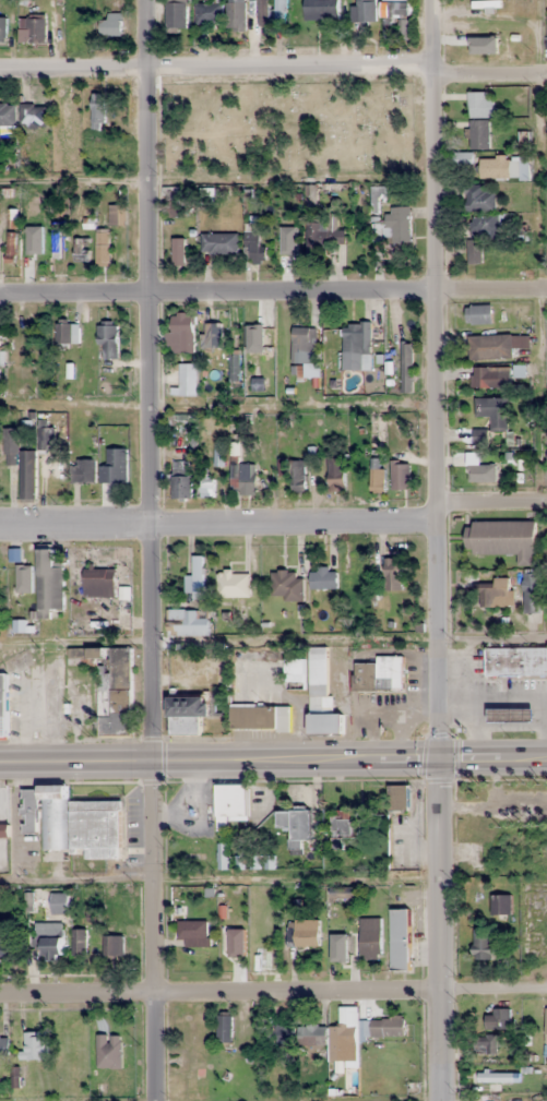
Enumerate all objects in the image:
building: (475, 7)
building: (321, 10)
building: (364, 11)
building: (280, 12)
building: (209, 13)
building: (237, 15)
building: (176, 16)
building: (396, 20)
building: (109, 26)
building: (2, 28)
building: (32, 29)
building: (476, 47)
road: (216, 69)
road: (489, 74)
building: (480, 105)
building: (98, 110)
building: (8, 115)
building: (33, 115)
park: (289, 124)
building: (479, 134)
building: (103, 148)
building: (463, 158)
building: (504, 167)
building: (479, 199)
building: (175, 201)
building: (117, 214)
building: (397, 225)
building: (484, 226)
building: (324, 234)
building: (57, 241)
building: (218, 243)
building: (252, 246)
building: (103, 247)
building: (34, 248)
building: (282, 248)
building: (81, 249)
building: (474, 251)
building: (178, 252)
road: (273, 292)
building: (478, 314)
building: (183, 330)
building: (252, 333)
building: (67, 334)
building: (211, 335)
building: (357, 338)
building: (108, 339)
building: (1, 342)
building: (304, 344)
building: (496, 346)
building: (26, 348)
building: (234, 368)
building: (406, 369)
building: (490, 376)
road: (152, 379)
road: (436, 379)
building: (185, 381)
building: (491, 417)
building: (46, 439)
building: (10, 446)
building: (115, 467)
building: (336, 468)
building: (479, 469)
building: (83, 471)
building: (28, 475)
building: (377, 475)
building: (299, 476)
building: (401, 476)
building: (245, 478)
building: (181, 480)
building: (206, 492)
road: (491, 499)
road: (217, 526)
building: (502, 539)
building: (22, 572)
building: (393, 574)
building: (198, 577)
building: (323, 578)
building: (99, 582)
building: (48, 585)
building: (233, 585)
building: (286, 586)
building: (532, 593)
building: (492, 594)
building: (187, 622)
building: (515, 661)
building: (295, 674)
building: (379, 674)
building: (115, 691)
building: (321, 696)
building: (3, 704)
building: (192, 713)
building: (511, 715)
building: (260, 718)
road: (273, 758)
traffic signals: (440, 758)
building: (399, 797)
building: (231, 800)
building: (46, 814)
building: (295, 826)
building: (343, 826)
building: (97, 827)
building: (3, 830)
building: (342, 893)
building: (58, 902)
building: (500, 903)
road: (151, 930)
road: (440, 930)
building: (306, 932)
building: (194, 933)
building: (340, 935)
building: (239, 936)
building: (369, 937)
building: (48, 940)
building: (399, 940)
building: (79, 942)
building: (483, 944)
building: (114, 946)
building: (8, 947)
road: (273, 990)
building: (498, 1018)
building: (546, 1026)
building: (387, 1027)
building: (225, 1028)
building: (280, 1033)
building: (311, 1034)
building: (344, 1037)
building: (485, 1044)
building: (33, 1045)
building: (4, 1046)
building: (108, 1051)
building: (390, 1055)
building: (188, 1061)
building: (486, 1074)

